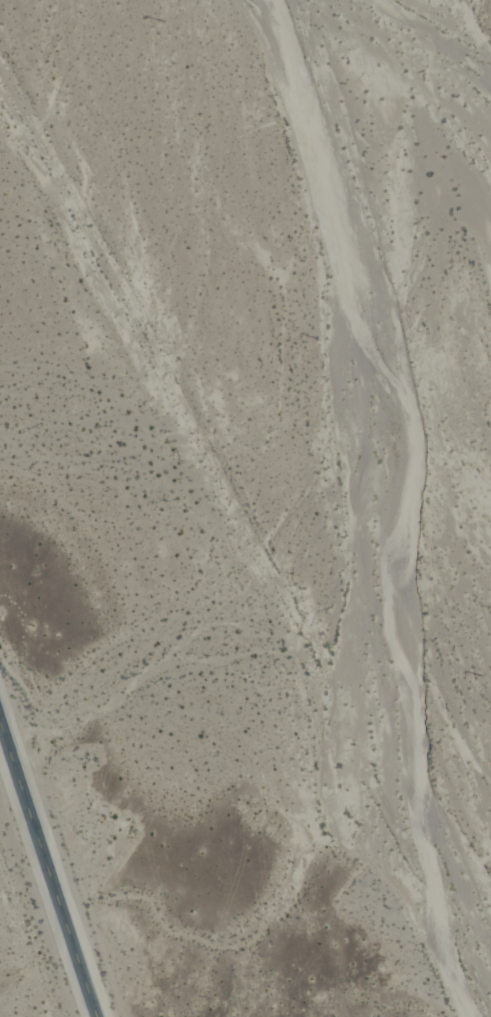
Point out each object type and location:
river: (450, 101)
road: (49, 864)

